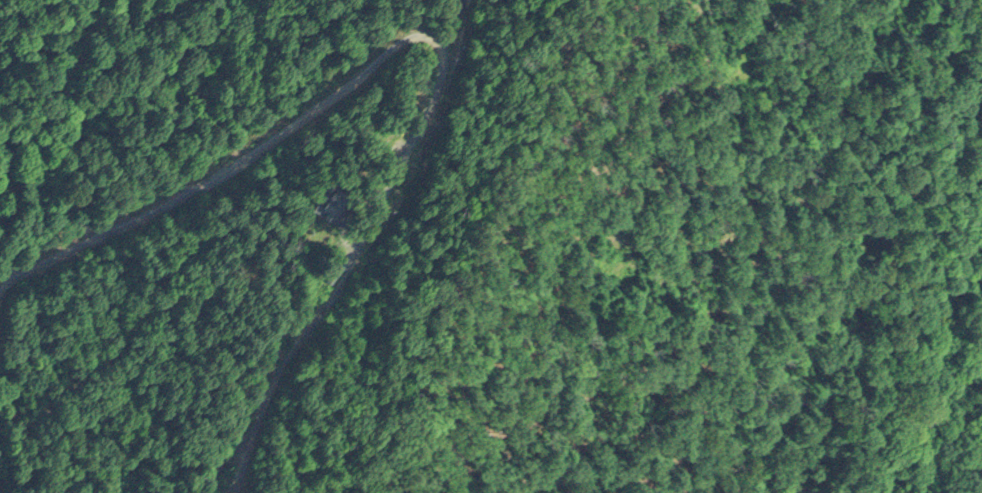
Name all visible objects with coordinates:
road: (435, 32)
building: (333, 197)

